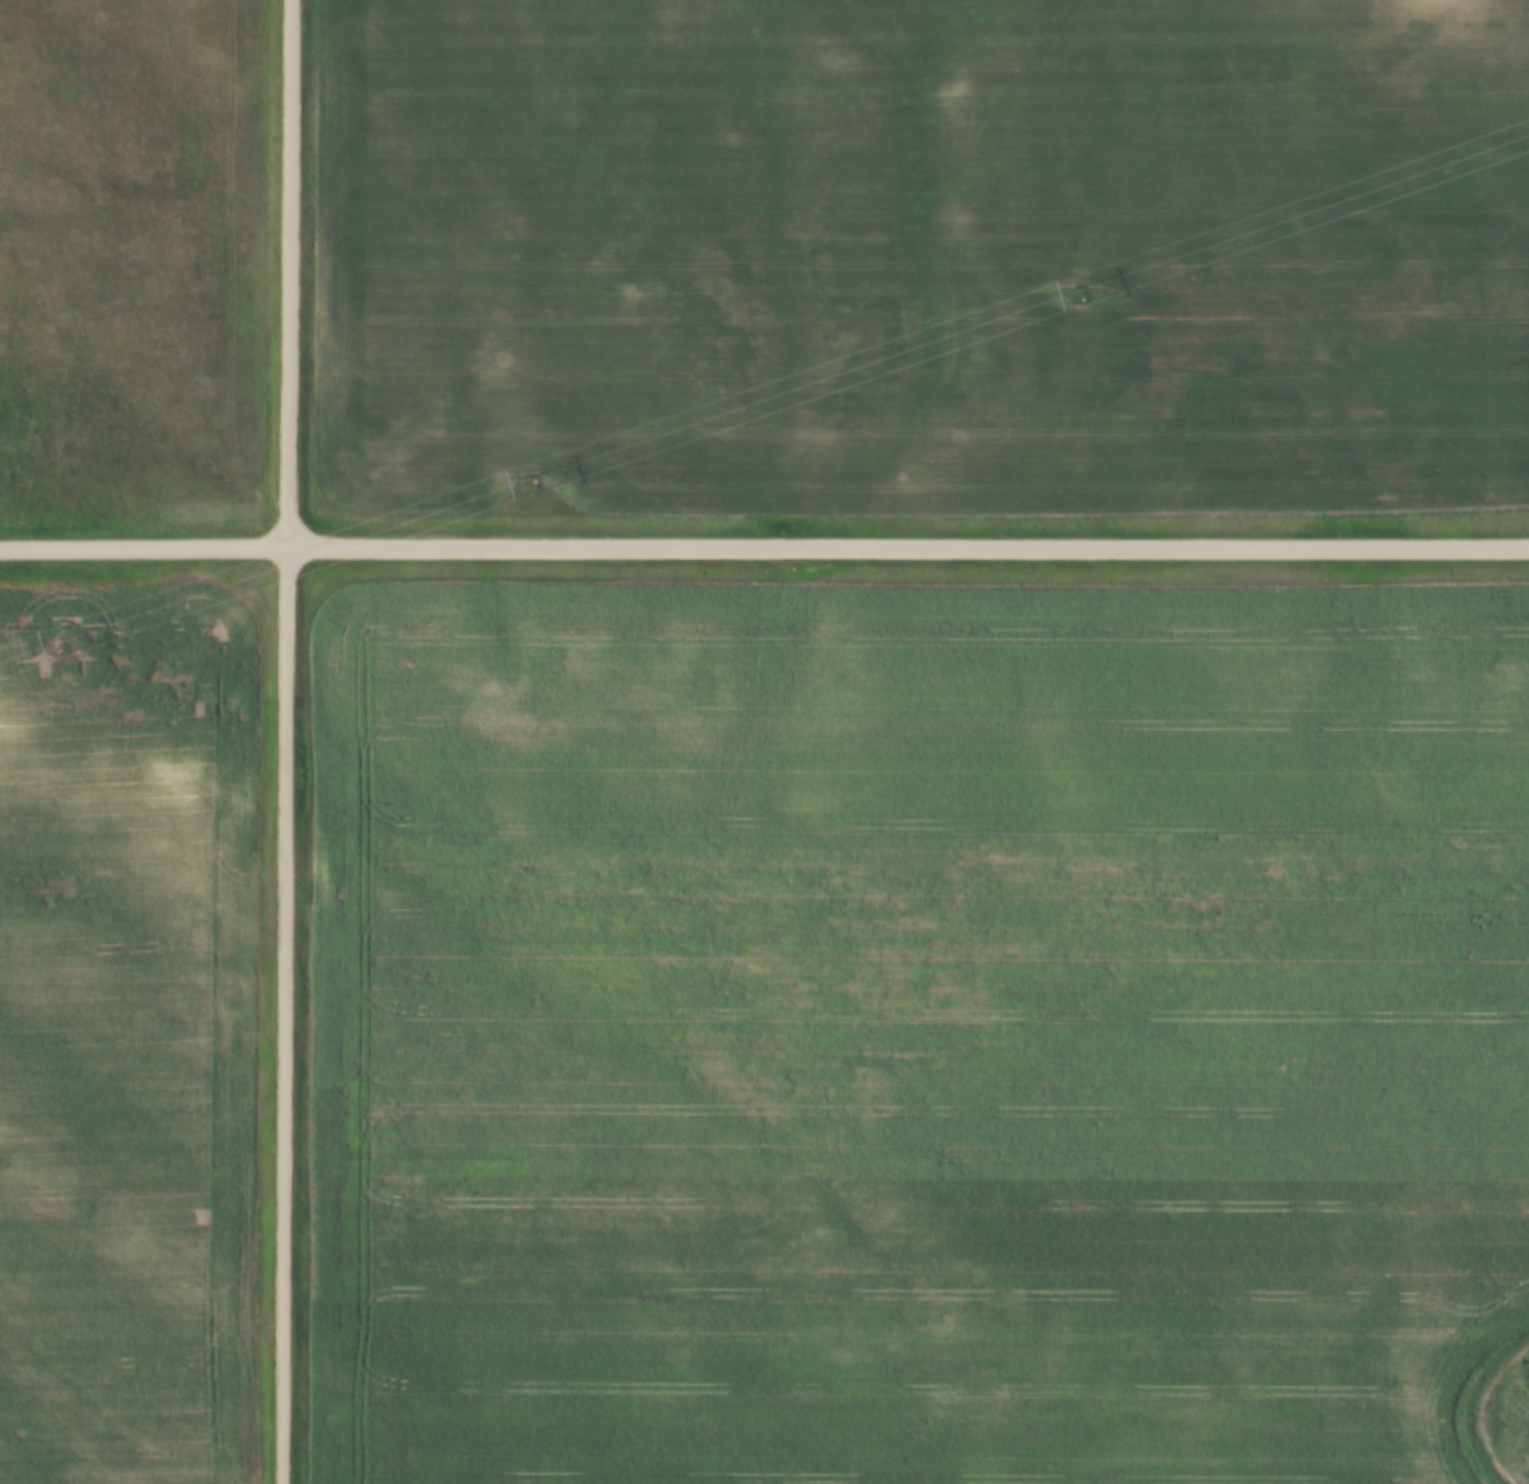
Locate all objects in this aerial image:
power tower: (1079, 293)
power tower: (533, 485)
road: (764, 545)
power tower: (65, 645)
road: (288, 741)

